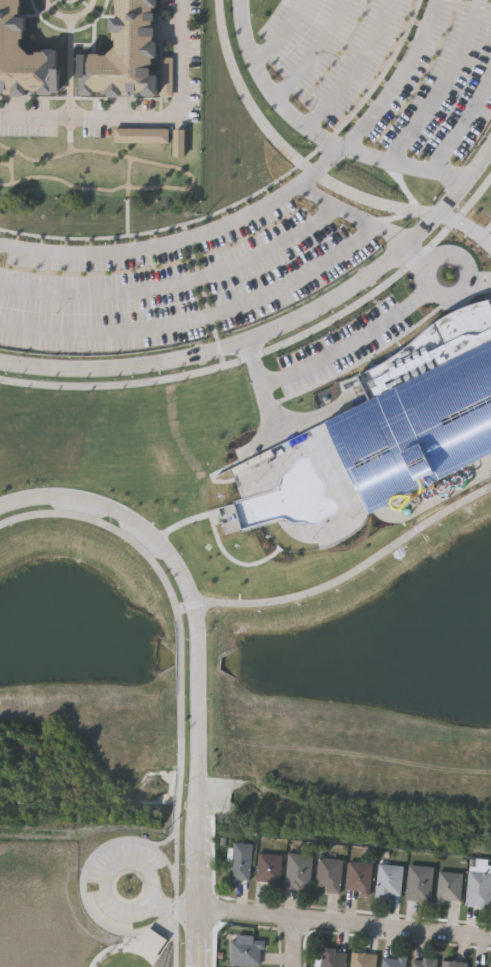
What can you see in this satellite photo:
road: (277, 32)
building: (132, 54)
building: (23, 55)
parking lot: (390, 69)
road: (143, 115)
road: (463, 124)
road: (316, 131)
road: (355, 212)
road: (465, 229)
road: (183, 236)
road: (426, 261)
parking lot: (177, 278)
road: (469, 278)
road: (278, 326)
road: (335, 351)
water park: (424, 406)
road: (197, 634)
building: (48, 857)
building: (241, 862)
building: (268, 867)
building: (298, 871)
building: (329, 874)
building: (359, 876)
building: (389, 881)
building: (419, 883)
building: (479, 883)
building: (450, 887)
road: (145, 904)
road: (173, 908)
road: (347, 922)
road: (204, 938)
road: (300, 942)
building: (246, 953)
building: (332, 958)
building: (363, 960)
building: (393, 961)
building: (424, 962)
building: (454, 964)
building: (481, 965)

